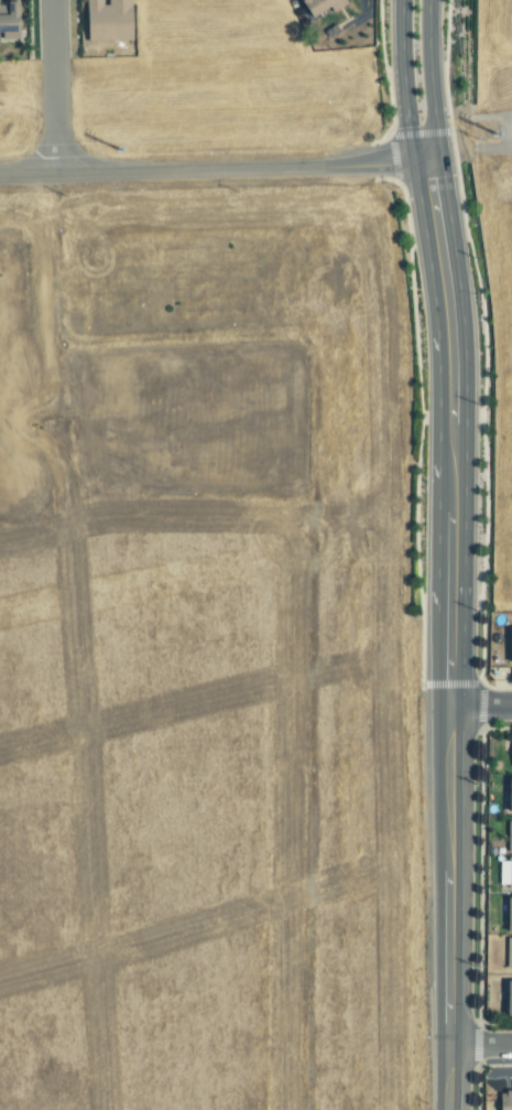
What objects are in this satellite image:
building: (318, 6)
building: (107, 20)
building: (8, 21)
road: (431, 82)
road: (404, 84)
road: (55, 88)
power tower: (467, 137)
power tower: (109, 151)
road: (214, 172)
road: (450, 635)
building: (509, 645)
road: (481, 708)
building: (511, 755)
building: (509, 795)
building: (509, 837)
building: (509, 873)
building: (508, 915)
building: (508, 953)
building: (508, 999)
road: (480, 1046)
building: (504, 1101)

